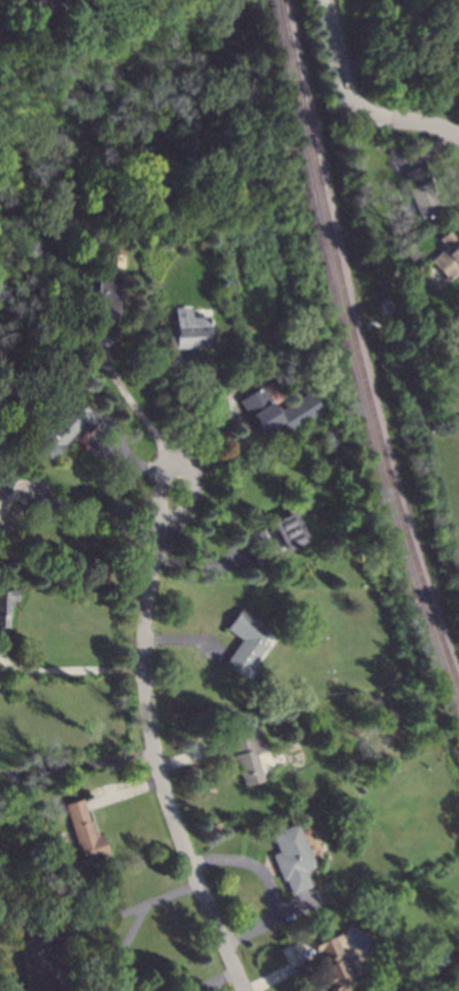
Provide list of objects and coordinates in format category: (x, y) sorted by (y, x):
road: (15, 4)
building: (41, 7)
building: (0, 11)
building: (2, 30)
road: (357, 103)
road: (424, 153)
building: (420, 192)
building: (448, 254)
building: (106, 297)
building: (385, 306)
building: (190, 332)
railway: (355, 347)
building: (249, 369)
road: (131, 402)
road: (192, 410)
building: (278, 410)
building: (66, 427)
road: (216, 427)
road: (115, 430)
road: (241, 442)
road: (181, 465)
building: (8, 489)
road: (89, 516)
building: (289, 530)
building: (259, 546)
road: (201, 565)
road: (41, 567)
building: (5, 616)
building: (246, 641)
road: (207, 659)
road: (1, 663)
road: (71, 670)
building: (248, 754)
road: (193, 755)
road: (77, 765)
road: (158, 773)
road: (124, 793)
building: (84, 831)
building: (292, 857)
road: (252, 864)
road: (137, 907)
road: (268, 921)
building: (38, 958)
building: (441, 960)
building: (332, 961)
road: (101, 973)
road: (280, 974)
road: (219, 982)

